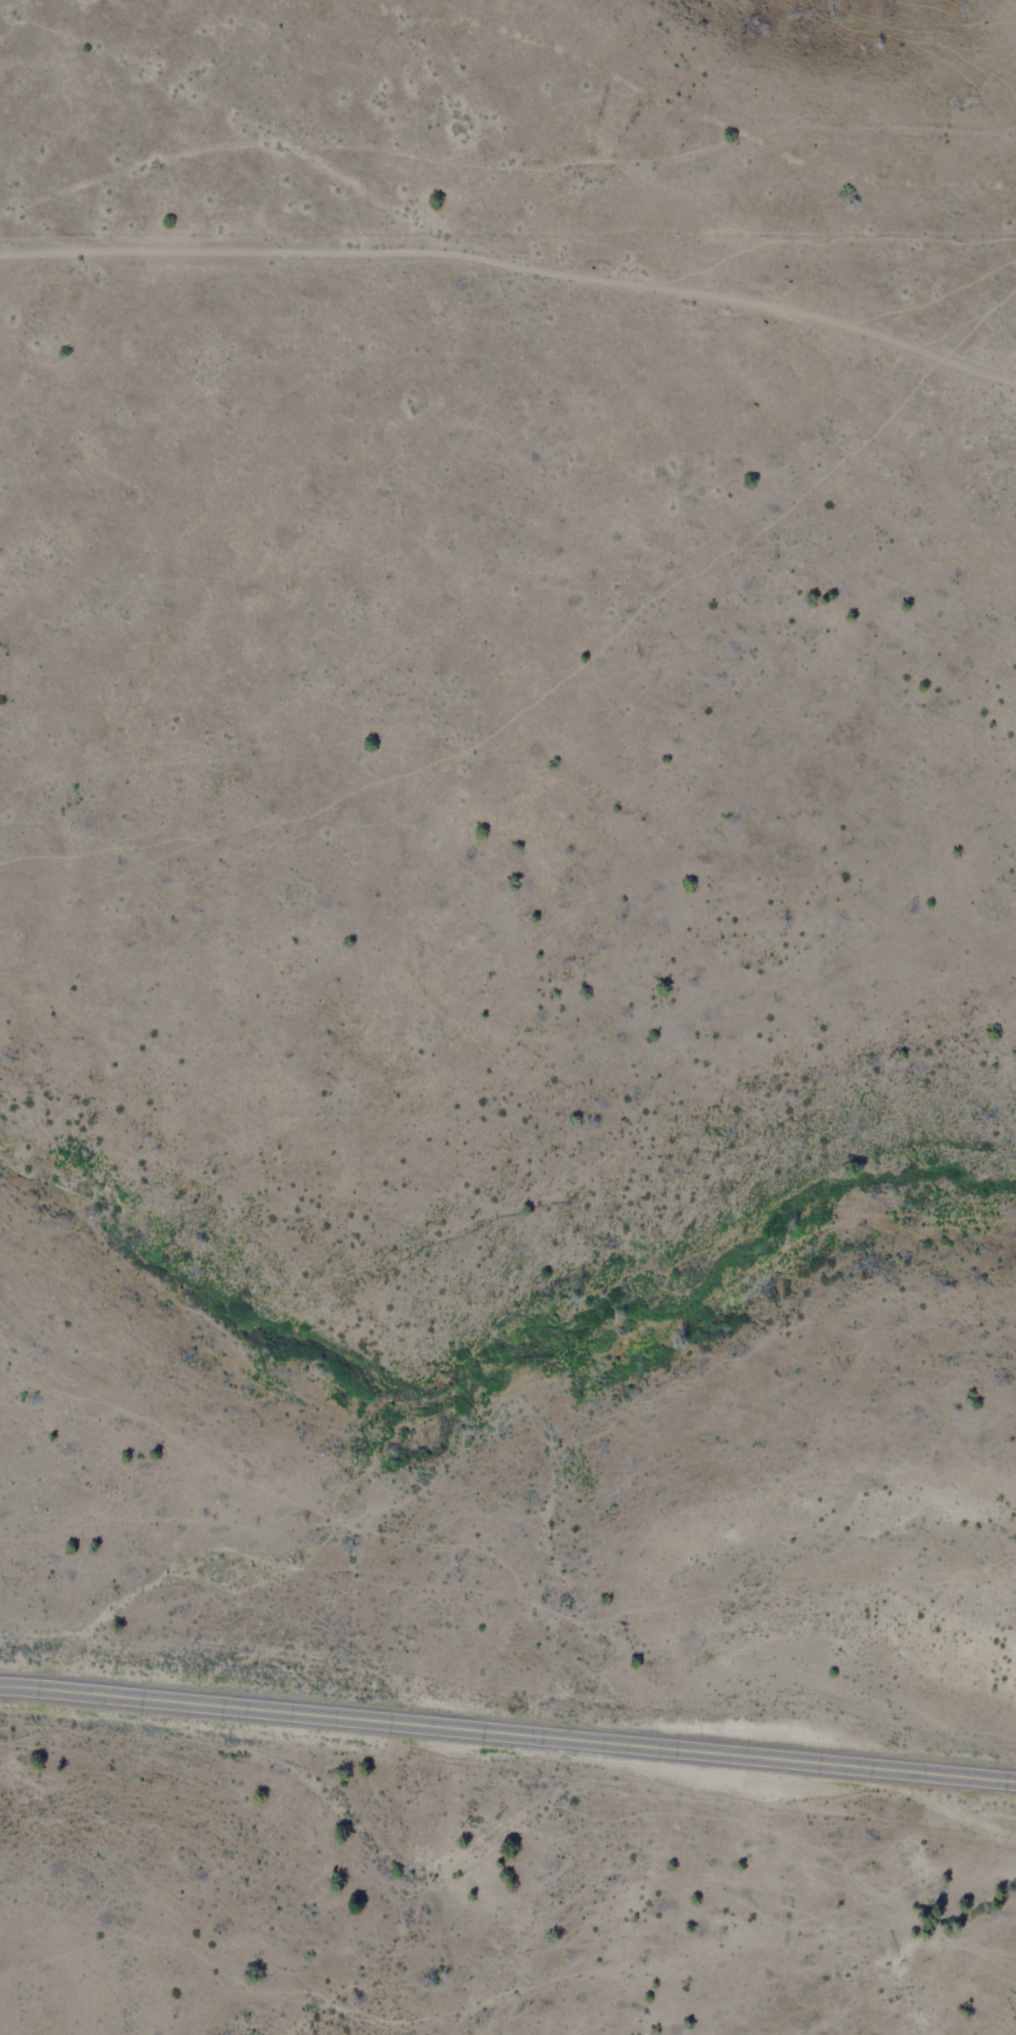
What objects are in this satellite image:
road: (508, 1732)

